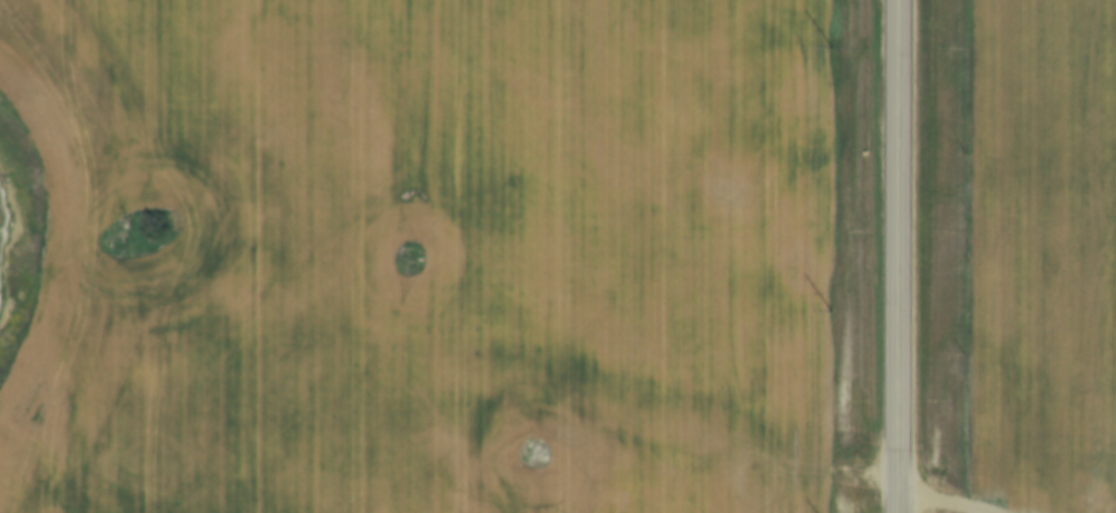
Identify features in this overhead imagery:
road: (897, 256)
road: (939, 500)

